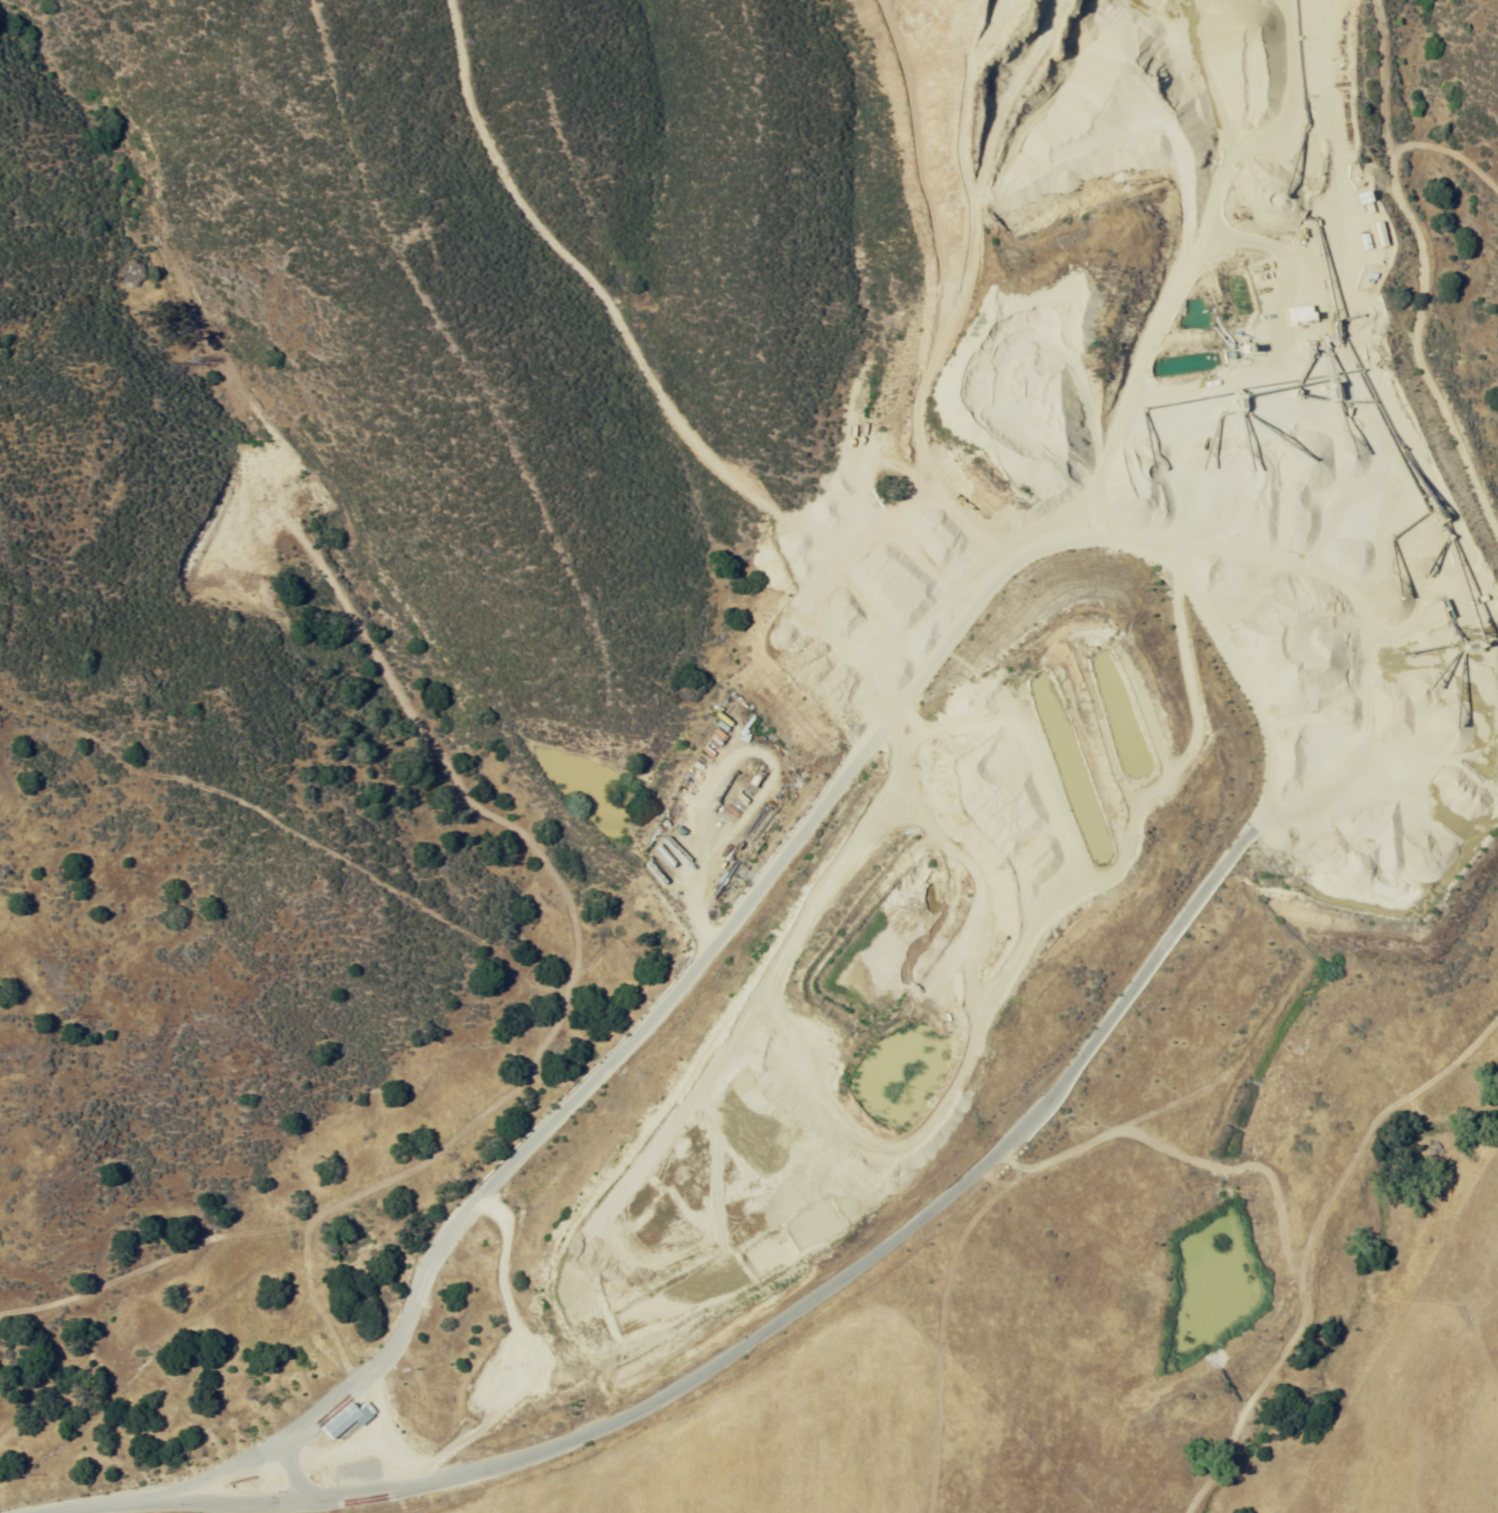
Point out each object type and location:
road: (1388, 140)
road: (947, 332)
quarry: (1371, 710)
road: (870, 745)
building: (676, 855)
road: (819, 1296)
building: (347, 1420)

